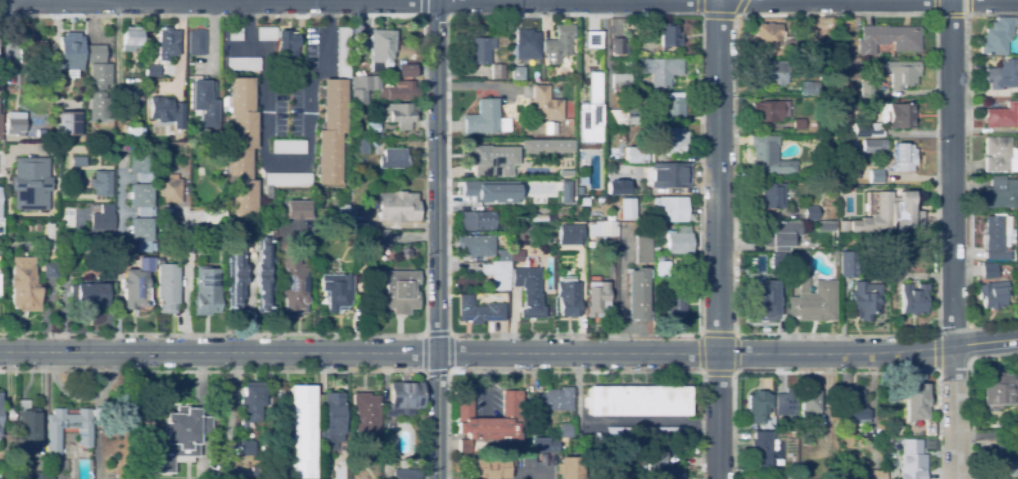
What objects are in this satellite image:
road: (35, 1)
road: (146, 1)
road: (259, 1)
road: (284, 2)
road: (423, 7)
road: (951, 14)
road: (449, 15)
road: (718, 15)
building: (234, 34)
building: (264, 34)
building: (669, 36)
building: (769, 36)
building: (998, 36)
building: (888, 38)
building: (131, 39)
building: (592, 39)
building: (527, 41)
building: (196, 42)
building: (560, 42)
building: (287, 43)
building: (167, 44)
building: (382, 46)
building: (619, 46)
building: (71, 48)
building: (33, 50)
building: (480, 50)
building: (652, 50)
building: (810, 51)
building: (343, 53)
building: (243, 64)
building: (840, 64)
building: (517, 70)
building: (660, 70)
building: (152, 71)
building: (405, 71)
building: (497, 71)
building: (771, 73)
building: (10, 74)
building: (539, 74)
building: (901, 74)
building: (1002, 75)
building: (621, 81)
building: (99, 82)
building: (865, 87)
building: (382, 90)
building: (801, 91)
building: (58, 96)
building: (137, 99)
building: (205, 104)
building: (546, 104)
building: (670, 106)
building: (589, 109)
building: (165, 111)
building: (767, 111)
building: (401, 115)
building: (623, 115)
building: (897, 116)
building: (1002, 116)
building: (486, 119)
building: (569, 122)
building: (67, 123)
building: (15, 125)
building: (799, 125)
building: (1, 127)
building: (373, 127)
building: (551, 128)
building: (867, 130)
building: (331, 131)
building: (134, 133)
building: (806, 140)
building: (671, 141)
building: (546, 145)
building: (360, 146)
building: (872, 146)
building: (241, 147)
building: (288, 147)
building: (1000, 155)
building: (768, 157)
building: (392, 158)
building: (491, 158)
building: (903, 158)
road: (283, 159)
building: (865, 162)
building: (660, 169)
building: (565, 172)
road: (951, 172)
road: (437, 176)
building: (875, 176)
building: (285, 181)
building: (864, 181)
building: (31, 183)
building: (100, 183)
building: (619, 187)
building: (169, 189)
building: (478, 190)
building: (564, 191)
building: (851, 192)
building: (1000, 193)
building: (771, 196)
building: (832, 198)
building: (517, 199)
building: (600, 199)
building: (140, 201)
building: (396, 207)
building: (74, 208)
building: (626, 208)
building: (670, 208)
building: (296, 209)
building: (896, 209)
building: (815, 214)
building: (216, 216)
building: (345, 217)
building: (102, 218)
building: (541, 218)
building: (476, 220)
building: (166, 222)
building: (505, 225)
building: (657, 226)
building: (825, 226)
building: (605, 228)
building: (49, 229)
building: (570, 232)
building: (1012, 233)
building: (779, 234)
building: (379, 238)
building: (995, 238)
road: (717, 239)
building: (679, 240)
building: (853, 240)
building: (475, 245)
building: (362, 249)
building: (643, 249)
building: (406, 253)
building: (515, 253)
building: (503, 255)
building: (832, 256)
building: (778, 260)
building: (1017, 261)
building: (847, 264)
building: (663, 269)
building: (51, 270)
road: (185, 270)
building: (497, 273)
building: (235, 274)
building: (264, 274)
building: (893, 275)
building: (780, 276)
building: (1017, 278)
building: (293, 281)
building: (23, 284)
building: (167, 287)
building: (824, 287)
building: (528, 289)
building: (992, 289)
building: (134, 290)
building: (206, 290)
building: (336, 291)
building: (396, 291)
building: (636, 294)
building: (90, 295)
building: (568, 298)
building: (763, 298)
building: (677, 299)
building: (597, 300)
building: (865, 300)
building: (914, 300)
building: (479, 311)
road: (935, 332)
road: (371, 334)
road: (700, 334)
road: (936, 352)
road: (509, 353)
road: (265, 370)
road: (573, 371)
road: (424, 372)
road: (835, 372)
building: (998, 389)
building: (403, 399)
building: (251, 401)
building: (552, 401)
building: (637, 401)
building: (785, 402)
building: (757, 406)
building: (809, 407)
building: (917, 407)
building: (855, 409)
road: (953, 412)
building: (366, 413)
building: (7, 414)
road: (436, 416)
building: (491, 418)
building: (780, 419)
building: (330, 420)
building: (1016, 420)
building: (769, 426)
building: (28, 428)
building: (68, 428)
building: (563, 431)
building: (839, 432)
building: (647, 433)
building: (299, 436)
building: (180, 438)
building: (266, 438)
building: (465, 445)
building: (546, 445)
building: (247, 448)
building: (761, 449)
building: (655, 456)
building: (910, 458)
building: (1002, 459)
building: (533, 460)
building: (490, 468)
building: (570, 468)
building: (252, 471)
building: (872, 474)
building: (405, 475)
building: (41, 476)

